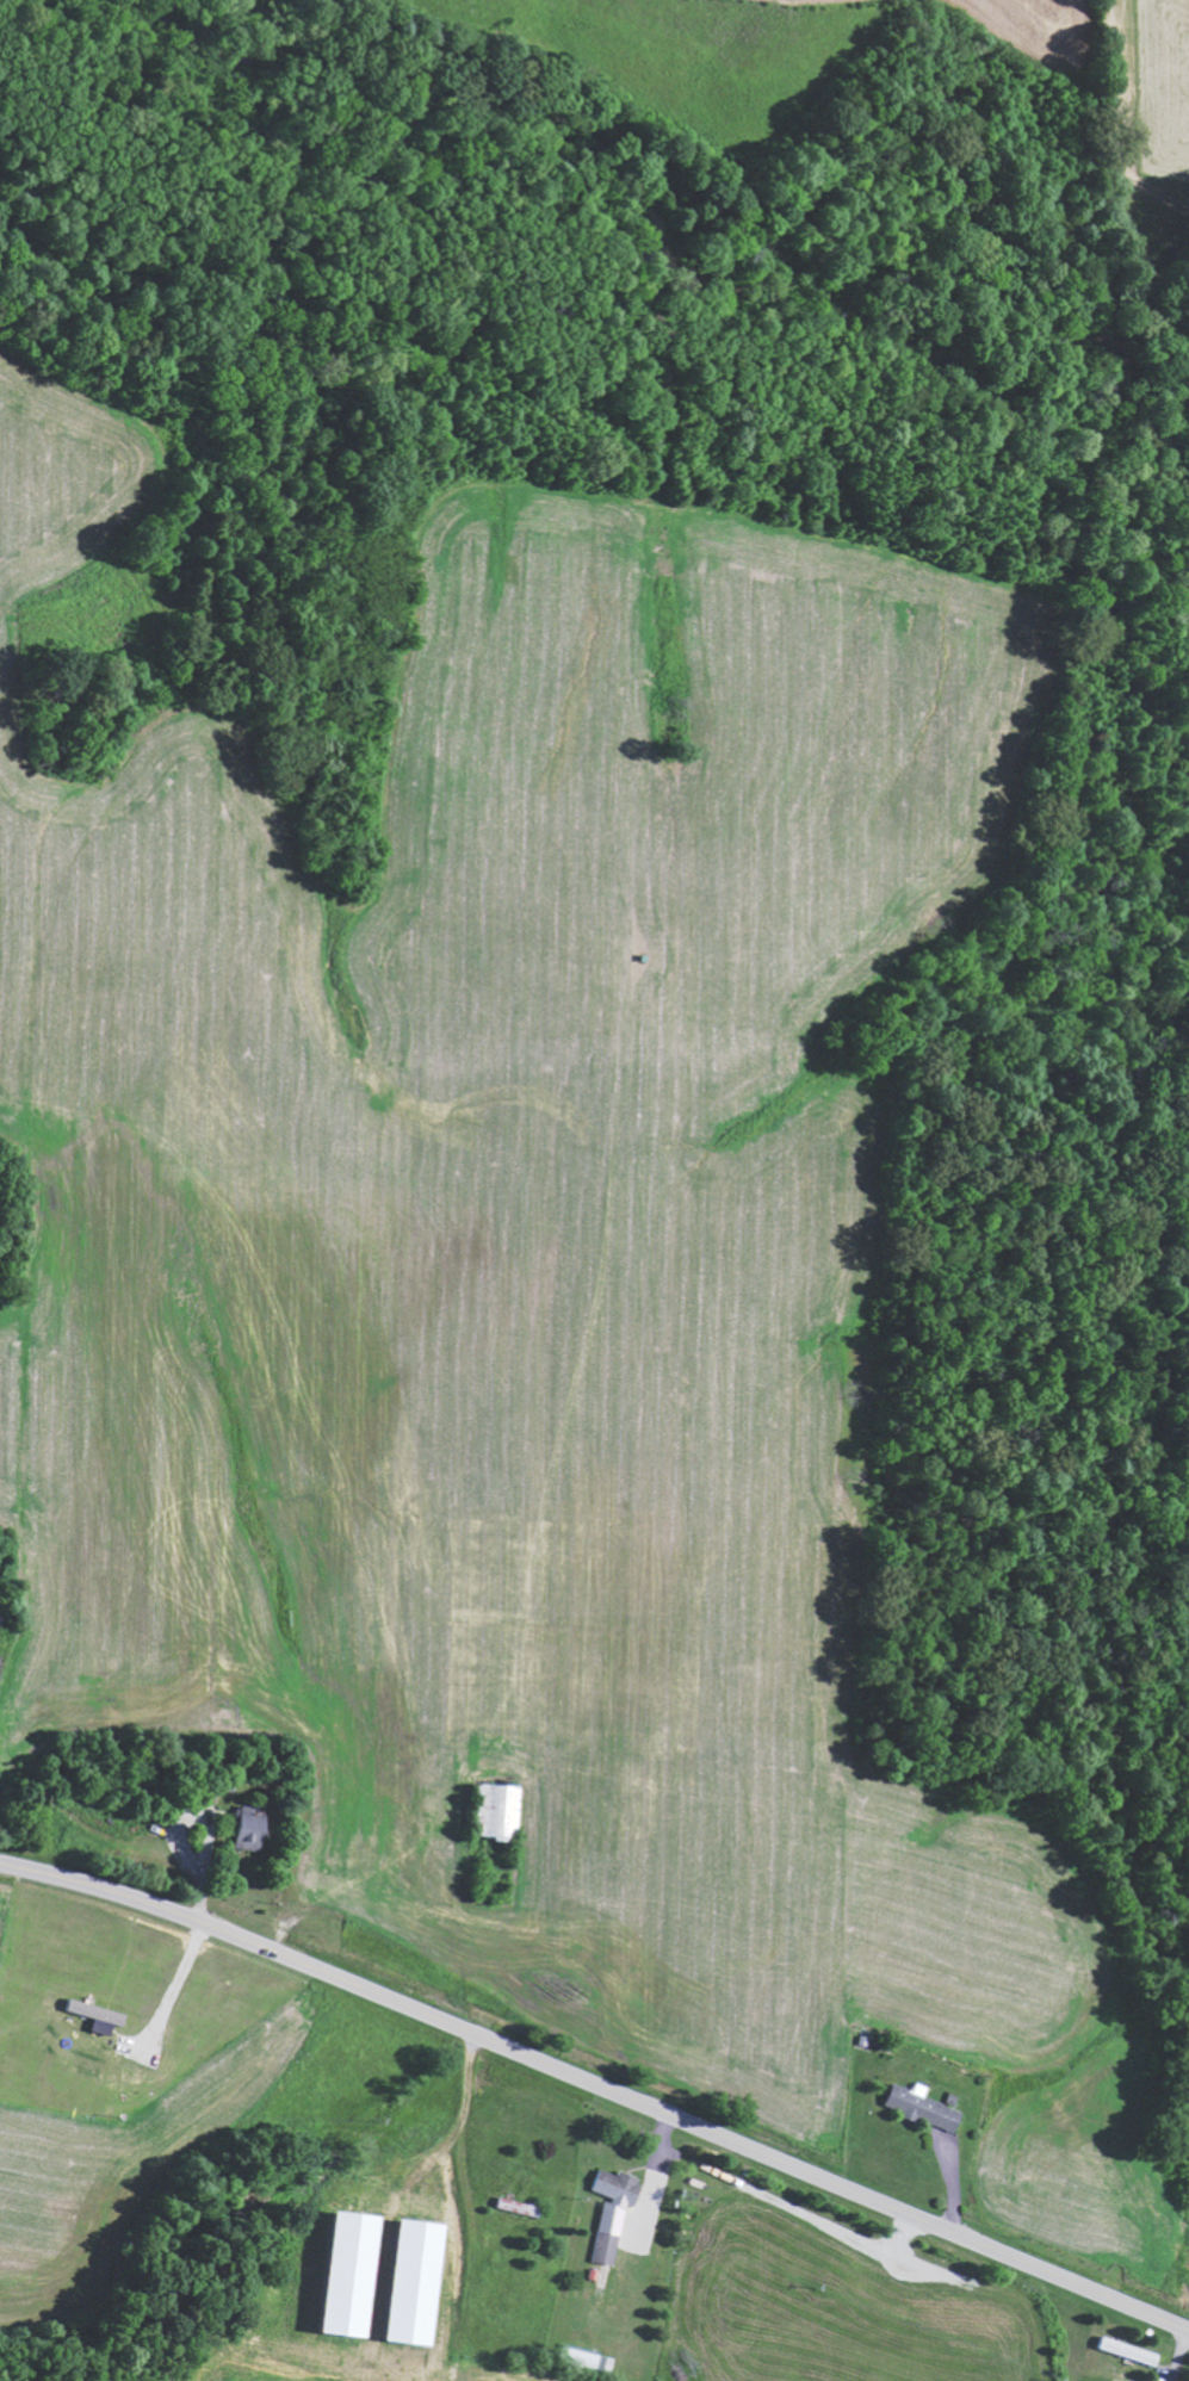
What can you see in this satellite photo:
building: (502, 1809)
building: (254, 1830)
building: (99, 2011)
road: (597, 2084)
building: (927, 2106)
building: (524, 2207)
building: (617, 2209)
road: (638, 2247)
building: (359, 2273)
building: (423, 2281)
road: (959, 2312)
building: (1131, 2350)
road: (1179, 2354)

